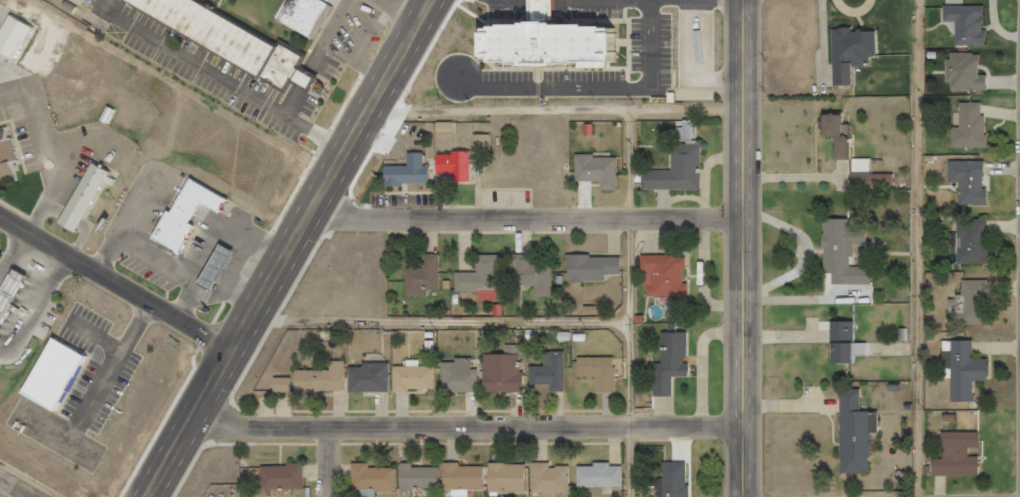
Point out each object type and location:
road: (403, 9)
building: (309, 16)
building: (963, 23)
building: (18, 40)
building: (232, 41)
building: (552, 47)
building: (704, 51)
building: (851, 52)
building: (961, 72)
road: (553, 113)
building: (966, 126)
building: (836, 135)
building: (477, 141)
building: (10, 161)
building: (860, 166)
building: (460, 167)
building: (604, 173)
building: (415, 175)
building: (684, 175)
building: (966, 181)
building: (211, 198)
building: (92, 200)
building: (193, 211)
road: (526, 219)
building: (179, 234)
building: (968, 241)
road: (289, 248)
road: (743, 248)
road: (923, 248)
building: (839, 251)
building: (222, 270)
gas station: (222, 270)
building: (597, 272)
building: (418, 276)
building: (541, 276)
building: (488, 279)
building: (670, 279)
road: (117, 281)
building: (429, 281)
building: (14, 300)
gas station: (14, 300)
building: (966, 303)
road: (636, 305)
road: (444, 322)
building: (839, 342)
building: (677, 366)
building: (959, 368)
building: (507, 372)
building: (558, 374)
building: (606, 375)
building: (61, 376)
building: (467, 379)
building: (377, 380)
building: (329, 382)
building: (420, 382)
building: (289, 387)
road: (535, 426)
road: (260, 428)
building: (851, 432)
building: (953, 455)
road: (326, 462)
building: (424, 478)
building: (607, 480)
building: (290, 481)
building: (379, 481)
building: (470, 481)
building: (515, 481)
building: (682, 481)
building: (557, 482)

